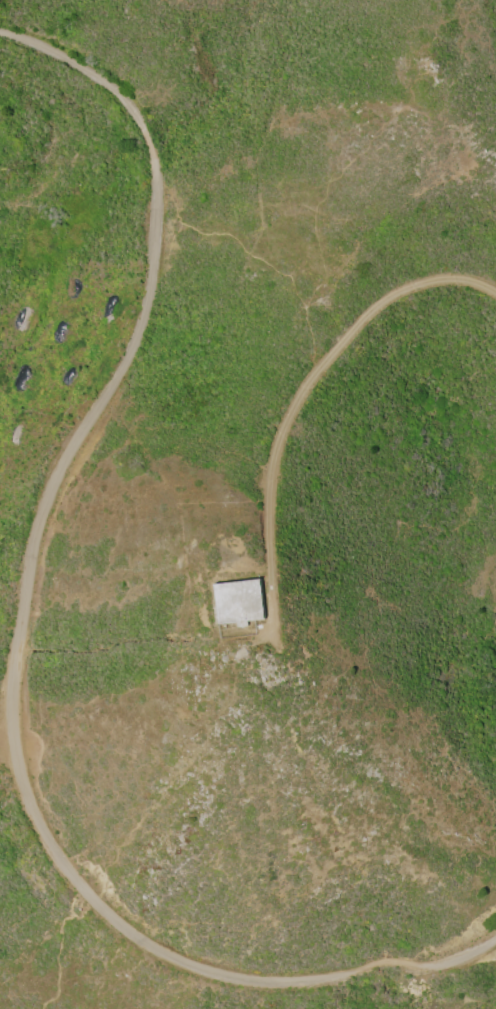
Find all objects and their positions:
road: (306, 399)
building: (239, 604)
road: (24, 639)

